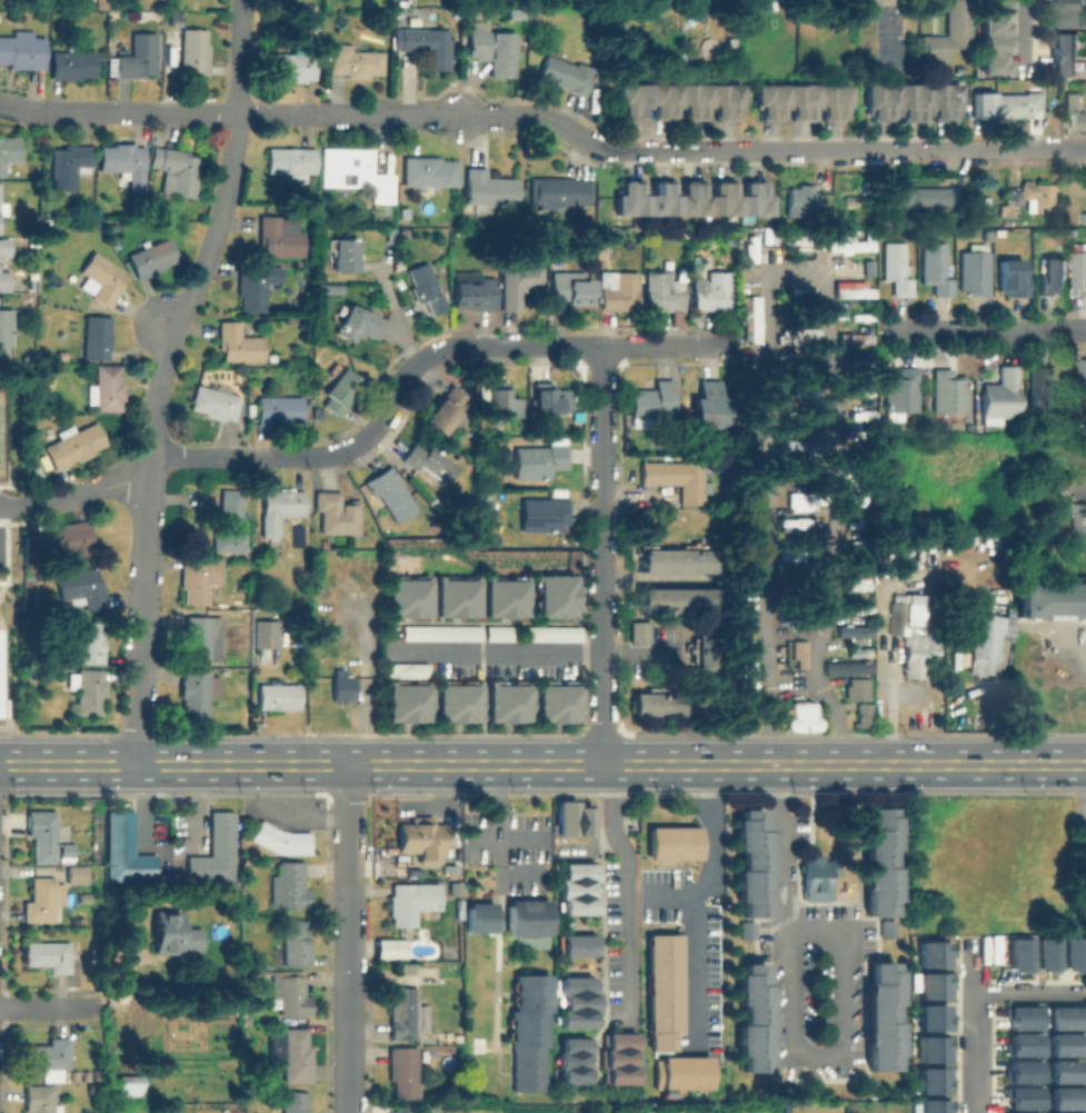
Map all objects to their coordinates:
building: (510, 12)
building: (1073, 12)
building: (177, 18)
building: (948, 31)
building: (994, 36)
road: (1023, 37)
building: (429, 44)
building: (495, 50)
building: (22, 52)
building: (197, 53)
building: (1065, 56)
building: (139, 57)
building: (355, 61)
building: (73, 64)
building: (293, 64)
building: (567, 74)
building: (679, 101)
building: (1072, 101)
building: (803, 102)
building: (911, 102)
building: (1007, 102)
road: (19, 106)
road: (179, 111)
road: (357, 115)
building: (1084, 120)
road: (601, 149)
road: (1025, 149)
road: (889, 150)
building: (8, 151)
building: (292, 161)
building: (126, 162)
building: (70, 165)
building: (179, 170)
building: (357, 171)
building: (430, 171)
building: (489, 189)
building: (556, 193)
building: (928, 197)
building: (1030, 197)
building: (694, 200)
building: (799, 200)
building: (2, 205)
building: (401, 211)
building: (111, 229)
building: (401, 232)
building: (280, 235)
building: (729, 238)
building: (798, 242)
building: (853, 248)
building: (346, 255)
building: (152, 258)
building: (753, 258)
building: (4, 265)
road: (803, 268)
building: (935, 269)
building: (1082, 271)
building: (855, 272)
building: (898, 272)
building: (975, 272)
building: (1055, 277)
building: (103, 278)
building: (1014, 279)
building: (518, 281)
building: (32, 282)
building: (258, 285)
building: (426, 287)
building: (569, 288)
building: (330, 289)
building: (472, 290)
building: (620, 291)
building: (714, 291)
building: (662, 292)
building: (800, 292)
building: (851, 295)
road: (396, 317)
building: (857, 317)
building: (358, 322)
building: (757, 322)
road: (166, 324)
road: (985, 331)
building: (97, 336)
building: (798, 336)
building: (857, 340)
building: (239, 342)
road: (566, 347)
building: (6, 348)
building: (272, 356)
building: (806, 360)
building: (1084, 374)
road: (161, 376)
building: (107, 388)
building: (339, 389)
building: (901, 390)
building: (947, 392)
building: (1045, 395)
building: (1000, 398)
building: (549, 399)
building: (651, 399)
building: (502, 400)
building: (216, 401)
building: (707, 405)
building: (251, 408)
building: (279, 409)
building: (444, 410)
building: (796, 417)
road: (382, 418)
park: (2, 434)
building: (74, 444)
building: (800, 444)
road: (180, 457)
building: (537, 459)
building: (430, 460)
building: (33, 471)
building: (675, 477)
building: (391, 493)
building: (798, 496)
road: (13, 504)
building: (279, 508)
building: (1072, 511)
building: (337, 514)
building: (544, 514)
building: (746, 514)
building: (791, 520)
building: (230, 521)
building: (71, 539)
building: (795, 549)
road: (601, 555)
building: (679, 560)
building: (747, 568)
building: (199, 577)
building: (82, 587)
building: (406, 595)
building: (454, 596)
building: (502, 596)
building: (552, 596)
building: (898, 597)
building: (678, 599)
building: (1049, 599)
building: (896, 619)
building: (4, 630)
building: (636, 630)
building: (747, 630)
building: (851, 630)
building: (438, 632)
building: (500, 633)
building: (549, 633)
building: (200, 635)
building: (265, 635)
building: (89, 642)
building: (987, 642)
building: (349, 646)
building: (700, 649)
building: (919, 649)
road: (491, 650)
road: (638, 650)
building: (798, 655)
building: (844, 666)
building: (405, 669)
building: (343, 685)
road: (794, 685)
building: (747, 687)
building: (853, 688)
building: (88, 689)
building: (195, 692)
building: (279, 696)
building: (403, 700)
building: (454, 700)
building: (504, 700)
building: (555, 700)
building: (655, 702)
building: (0, 708)
building: (860, 714)
building: (805, 719)
road: (542, 764)
road: (441, 809)
building: (562, 817)
building: (580, 819)
building: (40, 834)
road: (509, 837)
building: (422, 838)
road: (505, 838)
building: (280, 839)
building: (674, 842)
road: (777, 845)
building: (126, 849)
building: (216, 851)
building: (751, 859)
building: (879, 859)
building: (577, 869)
road: (348, 874)
building: (74, 876)
building: (816, 880)
building: (291, 883)
road: (627, 886)
building: (571, 888)
road: (667, 893)
road: (693, 897)
building: (42, 900)
building: (411, 901)
building: (578, 905)
building: (481, 917)
building: (528, 922)
road: (838, 926)
building: (885, 928)
building: (744, 930)
building: (175, 936)
building: (296, 942)
building: (576, 945)
building: (930, 953)
building: (1017, 953)
building: (1044, 953)
building: (1070, 953)
building: (47, 954)
building: (406, 970)
building: (930, 984)
building: (664, 988)
building: (289, 994)
building: (574, 1001)
road: (52, 1007)
road: (972, 1008)
building: (530, 1011)
building: (403, 1013)
building: (754, 1015)
building: (930, 1016)
building: (1020, 1016)
building: (1063, 1016)
building: (883, 1018)
building: (1063, 1043)
building: (1020, 1044)
building: (930, 1047)
road: (348, 1049)
building: (297, 1054)
building: (47, 1056)
building: (617, 1057)
building: (571, 1060)
building: (529, 1070)
building: (403, 1071)
building: (1019, 1071)
building: (1062, 1071)
building: (681, 1072)
building: (930, 1080)
building: (126, 1086)
building: (1019, 1096)
building: (1063, 1096)
building: (40, 1100)
building: (292, 1102)
building: (931, 1105)
building: (402, 1112)
building: (1027, 1112)
building: (1064, 1112)

